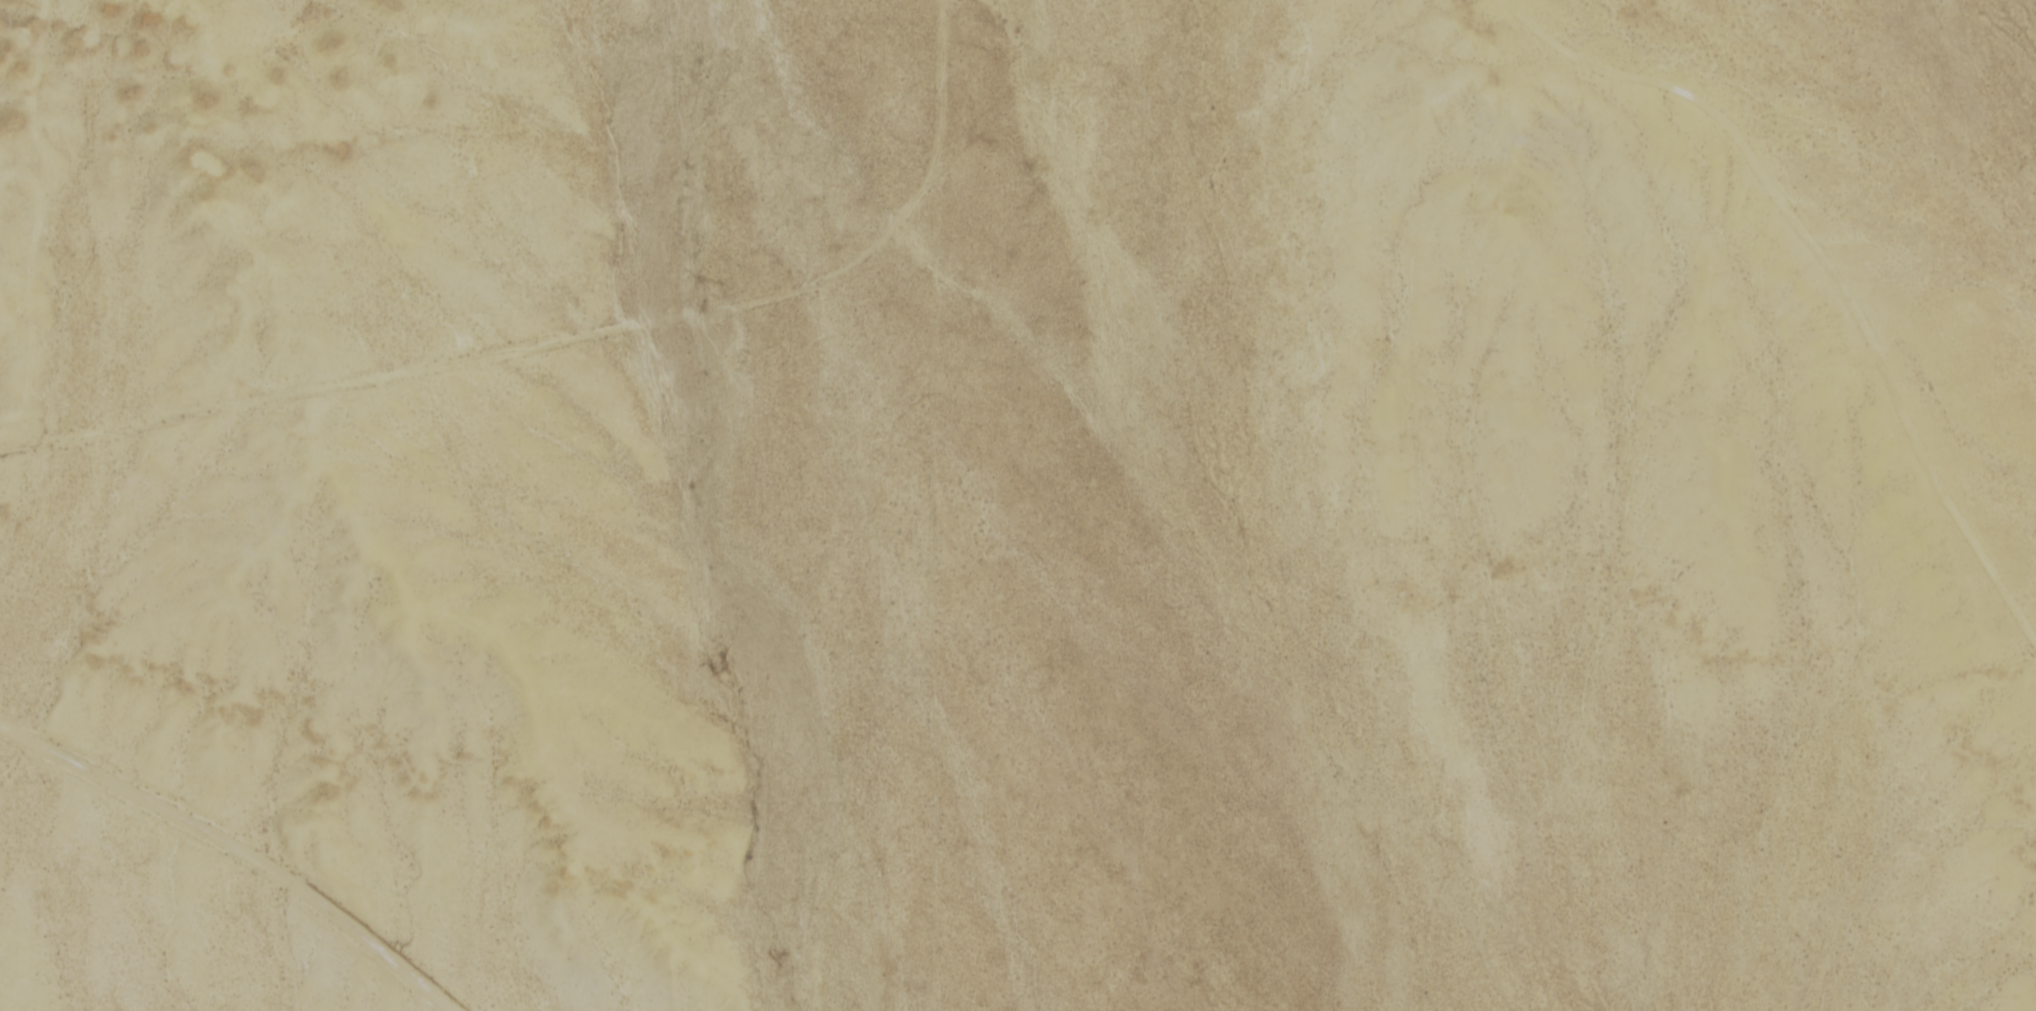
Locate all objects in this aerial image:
road: (1818, 244)
road: (593, 359)
road: (239, 869)

